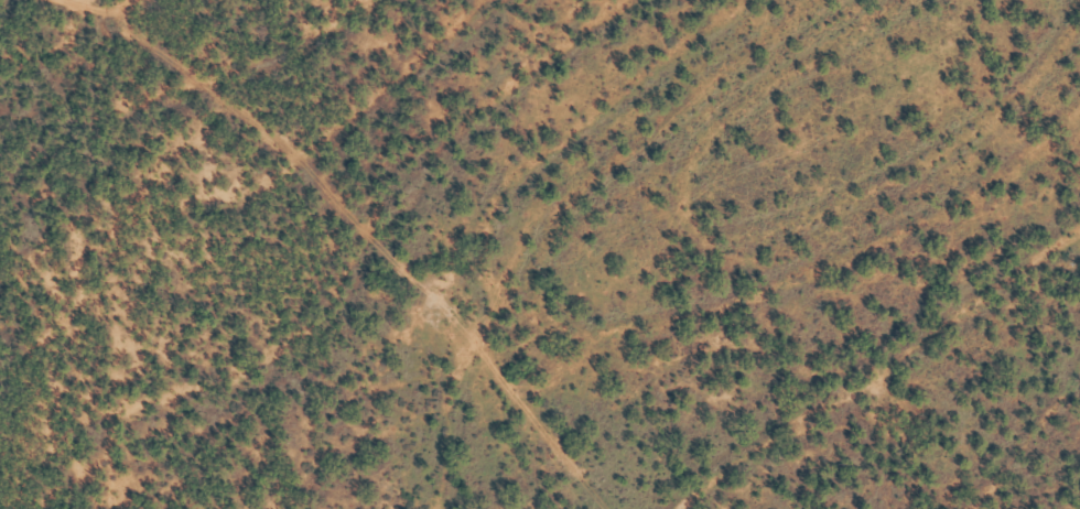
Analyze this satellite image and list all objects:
road: (39, 381)
road: (526, 436)
road: (55, 506)

